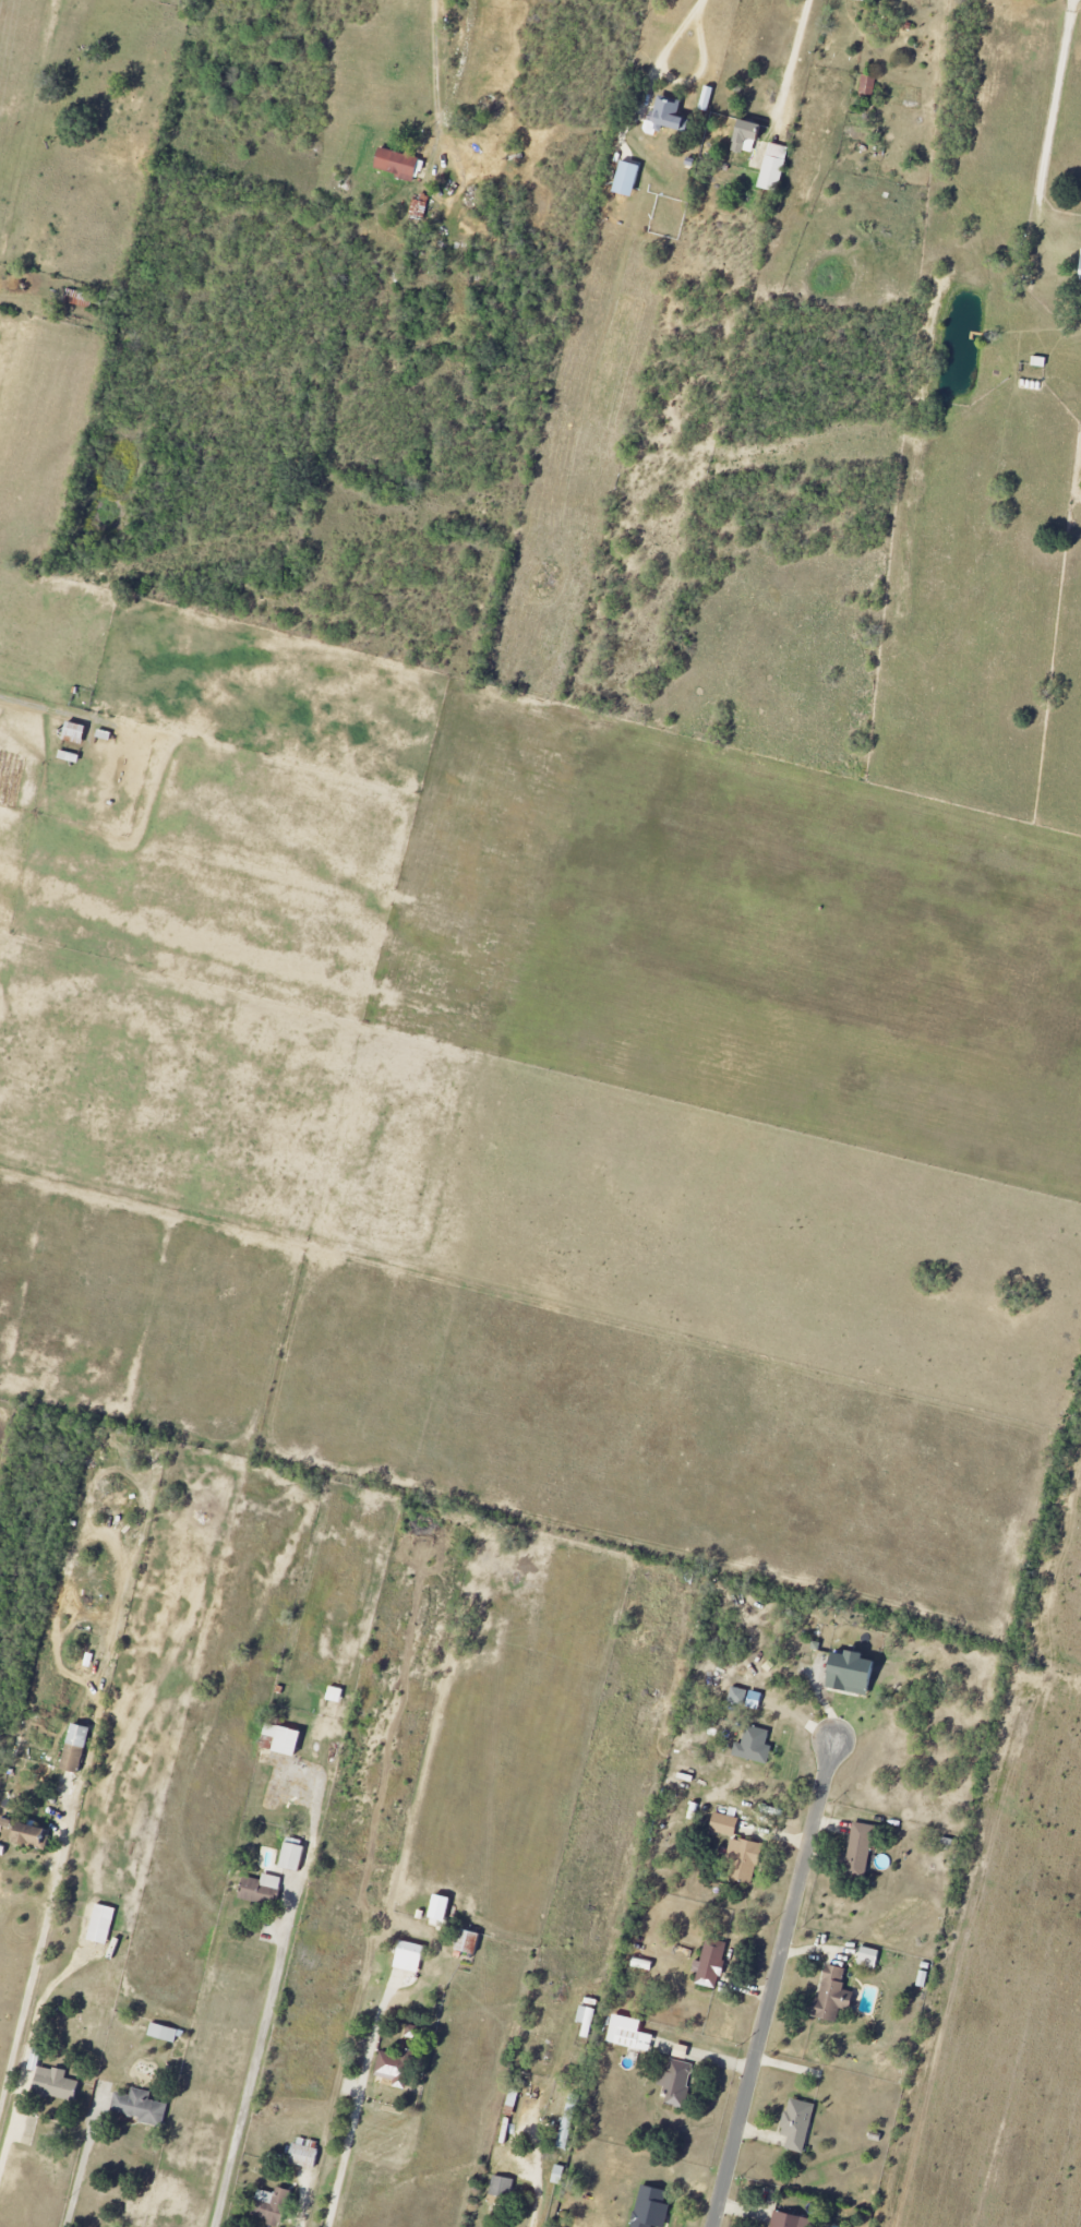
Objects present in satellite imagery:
road: (699, 0)
building: (858, 0)
road: (791, 58)
road: (434, 64)
road: (675, 80)
building: (866, 85)
building: (669, 116)
road: (1050, 119)
building: (748, 137)
building: (398, 164)
building: (774, 168)
building: (627, 179)
building: (419, 208)
building: (75, 733)
building: (853, 1672)
building: (745, 1698)
building: (284, 1738)
building: (755, 1746)
building: (76, 1748)
building: (724, 1824)
building: (33, 1837)
building: (860, 1847)
building: (293, 1856)
building: (744, 1859)
building: (262, 1889)
building: (103, 1924)
building: (469, 1941)
building: (410, 1956)
building: (868, 1957)
building: (710, 1963)
road: (32, 1973)
road: (776, 1981)
building: (833, 1992)
building: (585, 2020)
building: (164, 2033)
building: (628, 2033)
building: (395, 2071)
road: (253, 2076)
building: (676, 2082)
building: (56, 2084)
building: (140, 2107)
building: (798, 2124)
road: (9, 2127)
building: (565, 2135)
road: (348, 2145)
road: (79, 2179)
building: (501, 2191)
building: (273, 2206)
building: (651, 2206)
building: (790, 2220)
road: (299, 2222)

